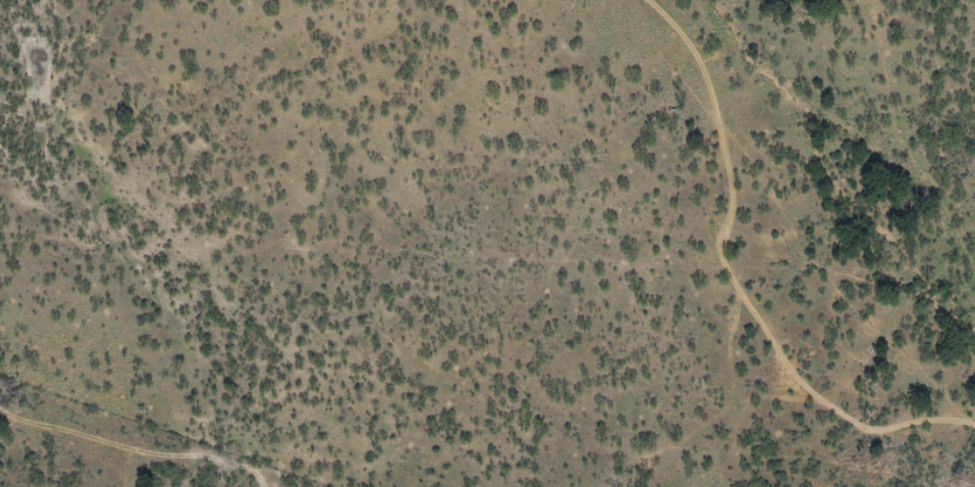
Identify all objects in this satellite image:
road: (707, 314)

